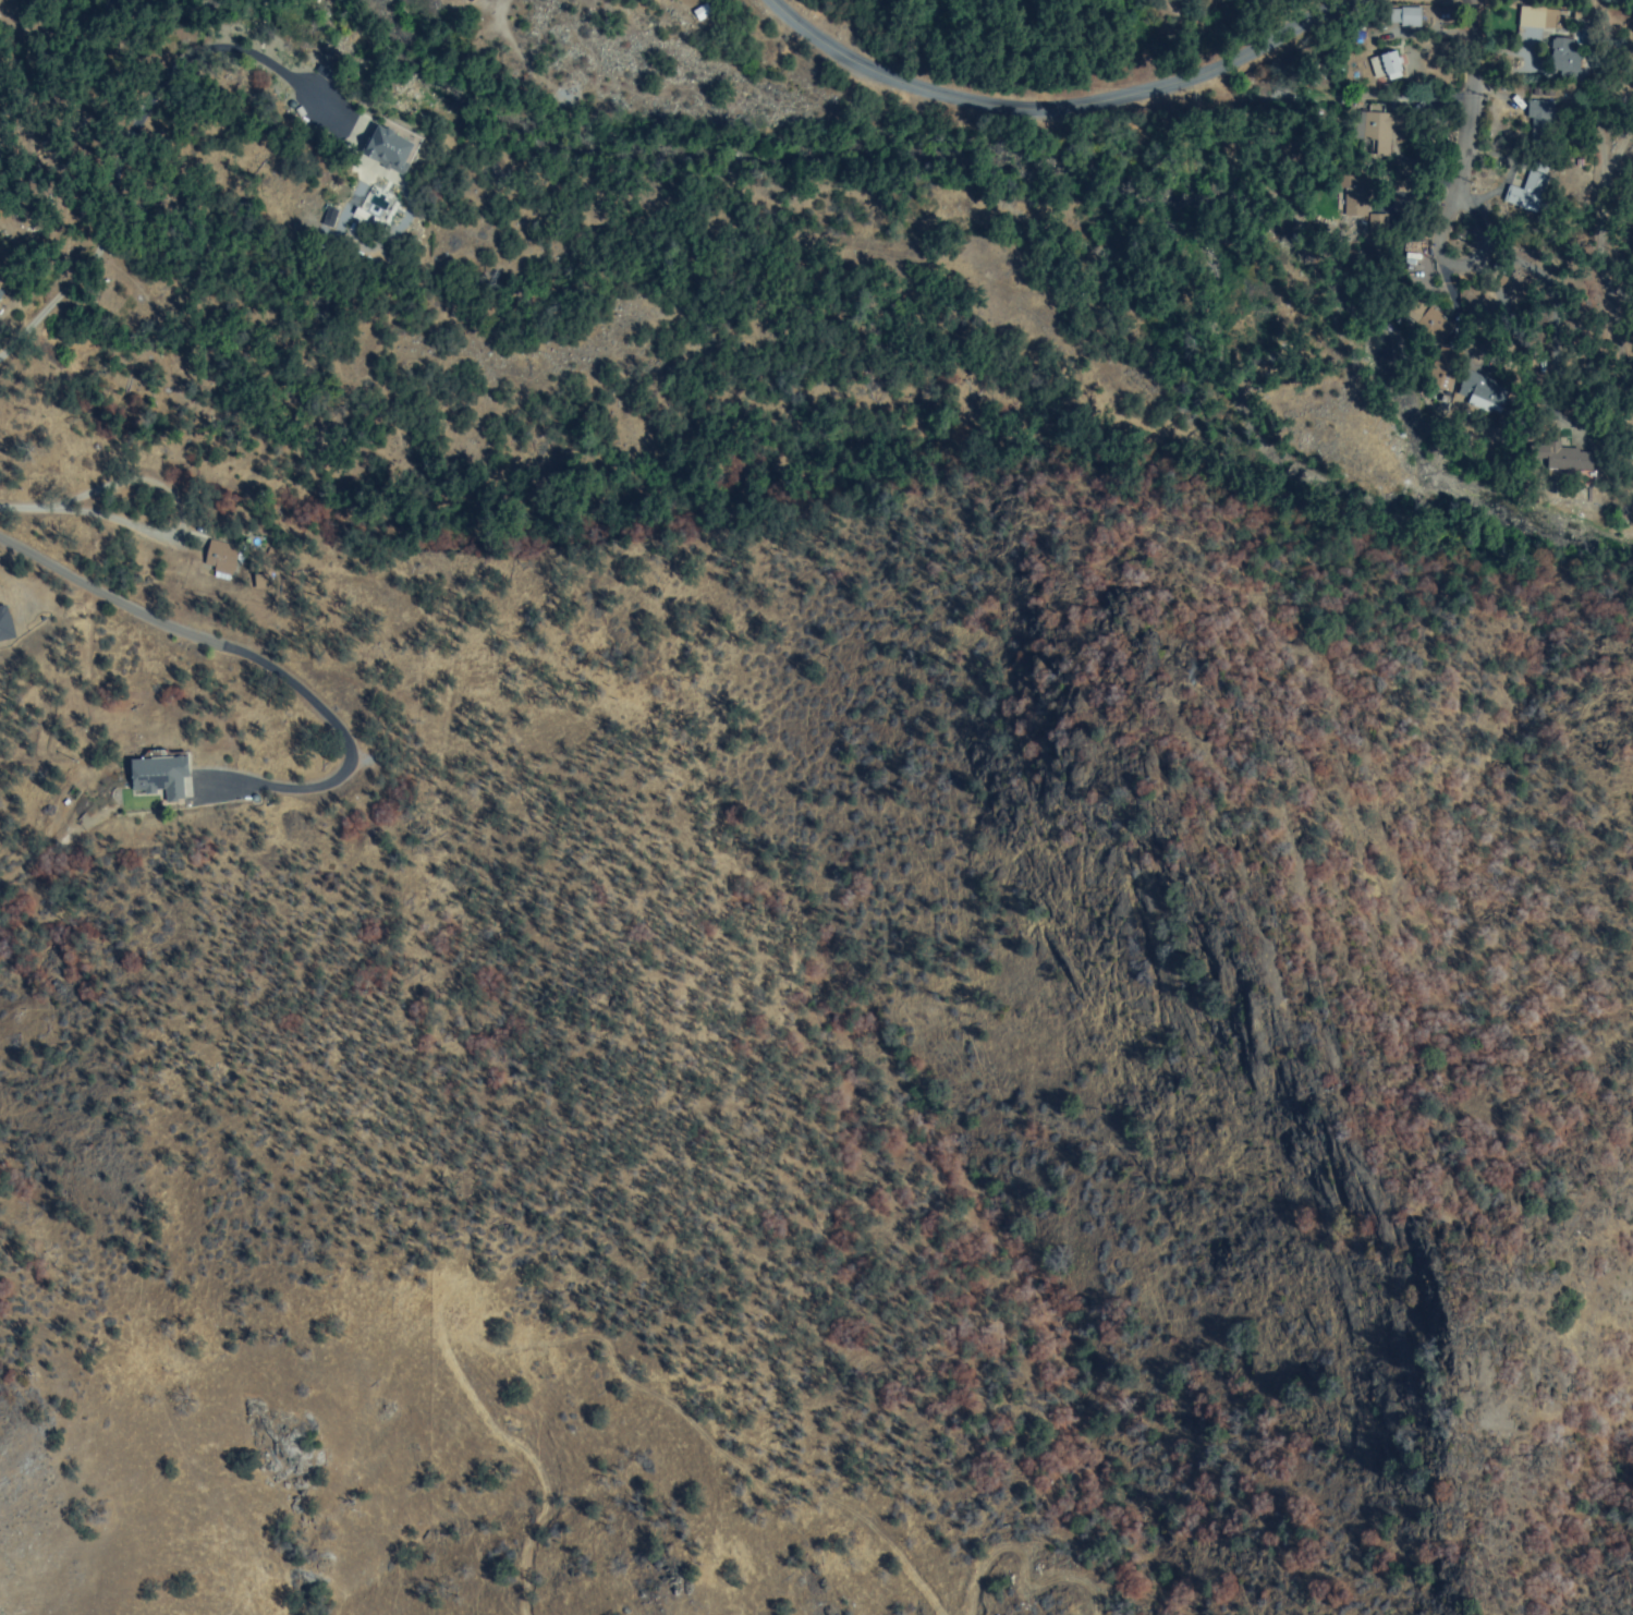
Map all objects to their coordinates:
building: (699, 10)
building: (1530, 16)
building: (1561, 20)
building: (1558, 58)
building: (1389, 65)
road: (1059, 110)
building: (1537, 122)
building: (1379, 125)
building: (380, 138)
river: (1037, 161)
road: (1425, 166)
building: (1524, 189)
building: (1351, 204)
building: (327, 216)
road: (1511, 281)
building: (1428, 320)
building: (1484, 393)
building: (1563, 452)
building: (217, 558)
building: (258, 581)
building: (4, 629)
road: (256, 666)
building: (160, 777)

